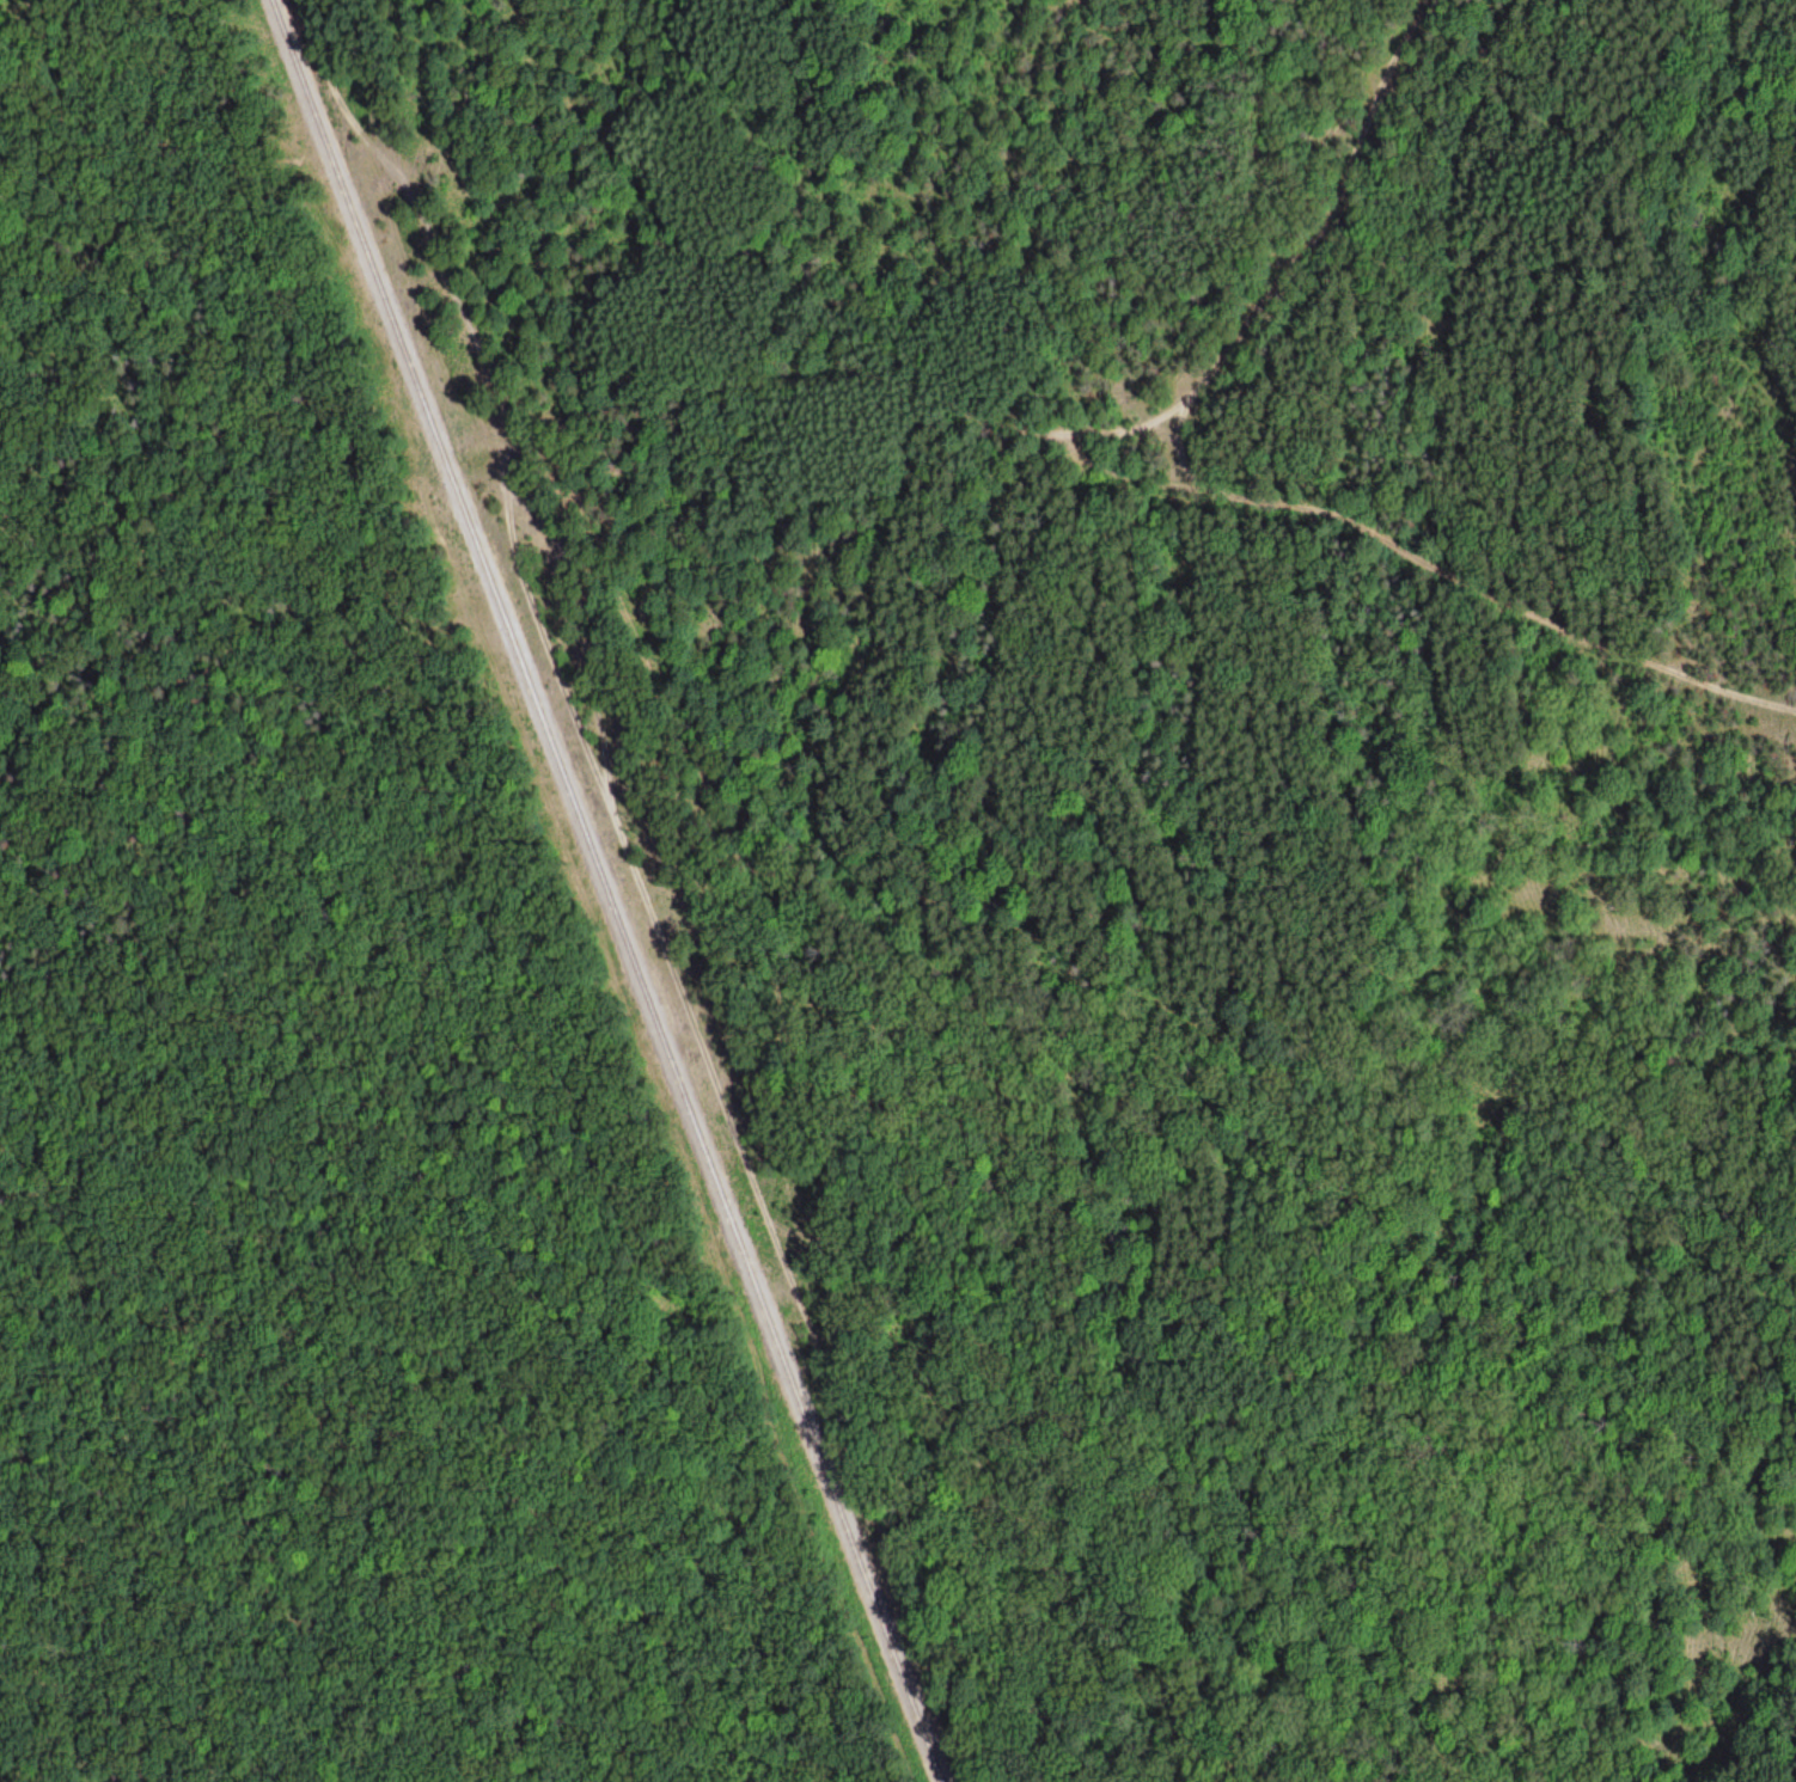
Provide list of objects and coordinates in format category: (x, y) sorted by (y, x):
road: (433, 231)
road: (1288, 261)
road: (1181, 484)
railway: (607, 890)
road: (810, 1147)

